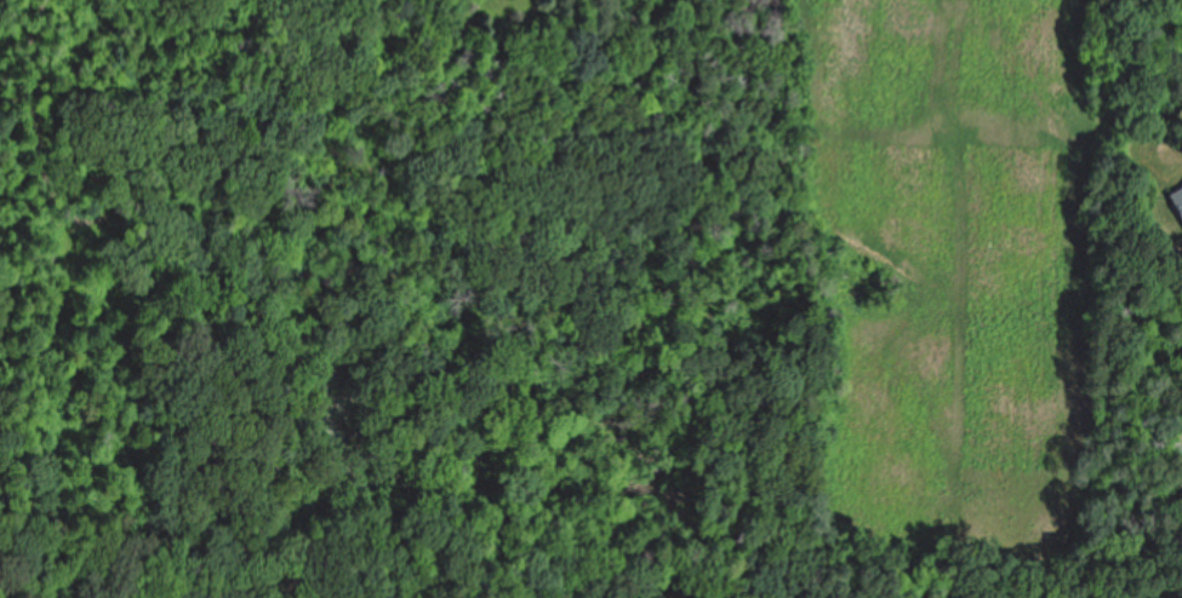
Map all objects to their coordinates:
building: (1176, 202)

